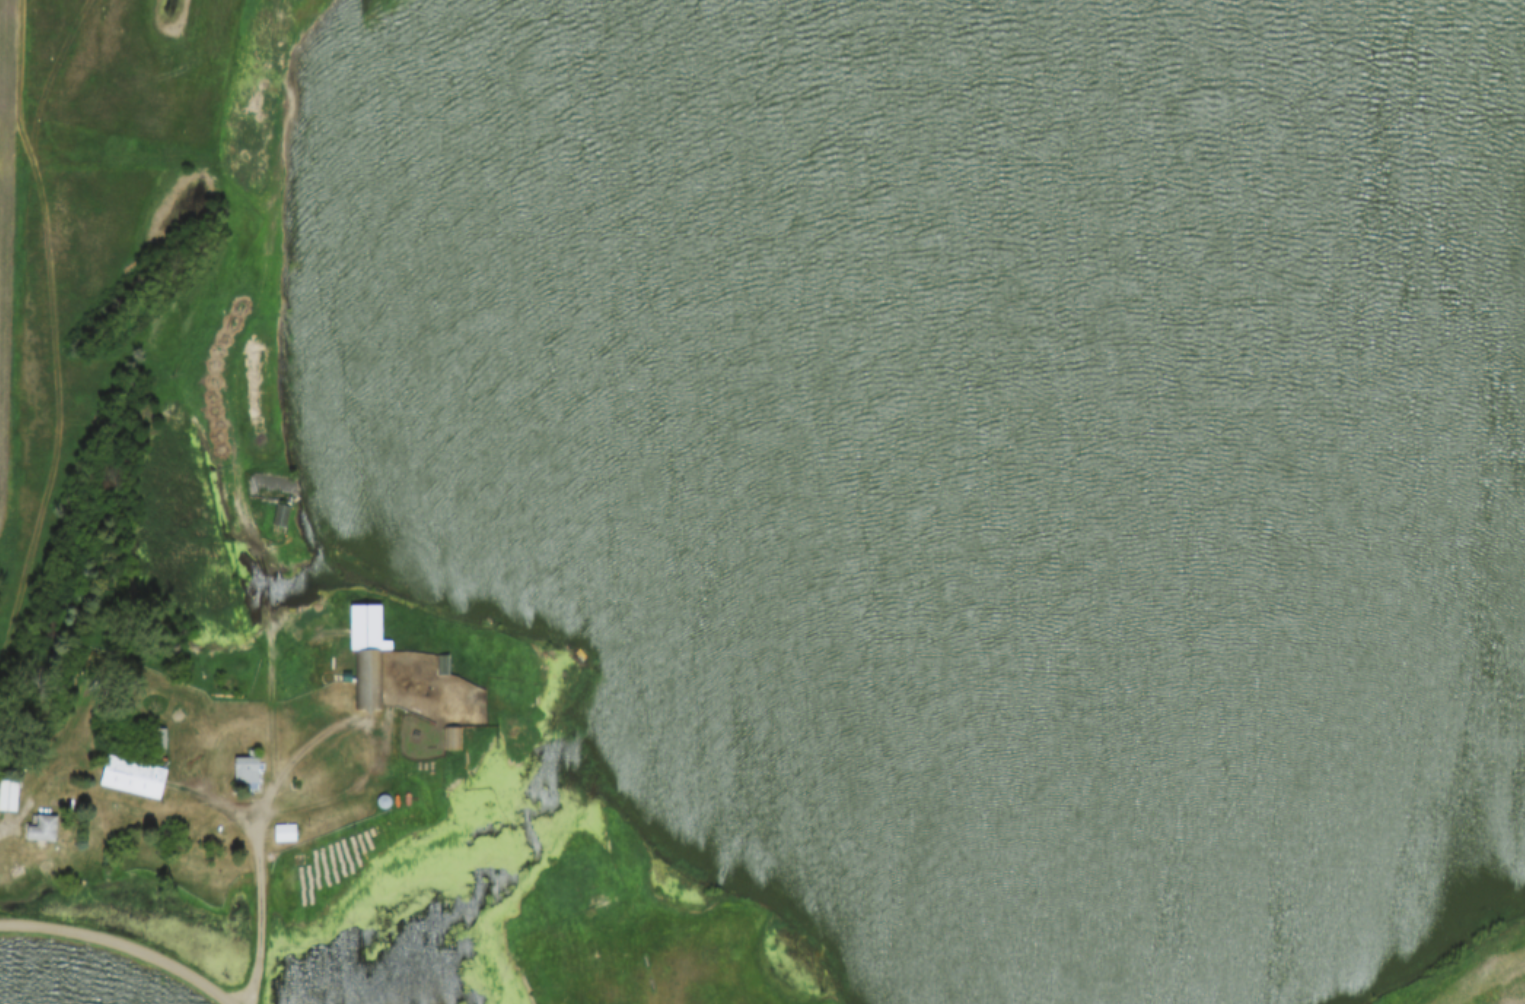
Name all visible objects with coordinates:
road: (281, 387)
building: (249, 773)
building: (138, 779)
building: (10, 797)
road: (15, 824)
building: (43, 830)
road: (261, 832)
building: (286, 834)
road: (114, 953)

